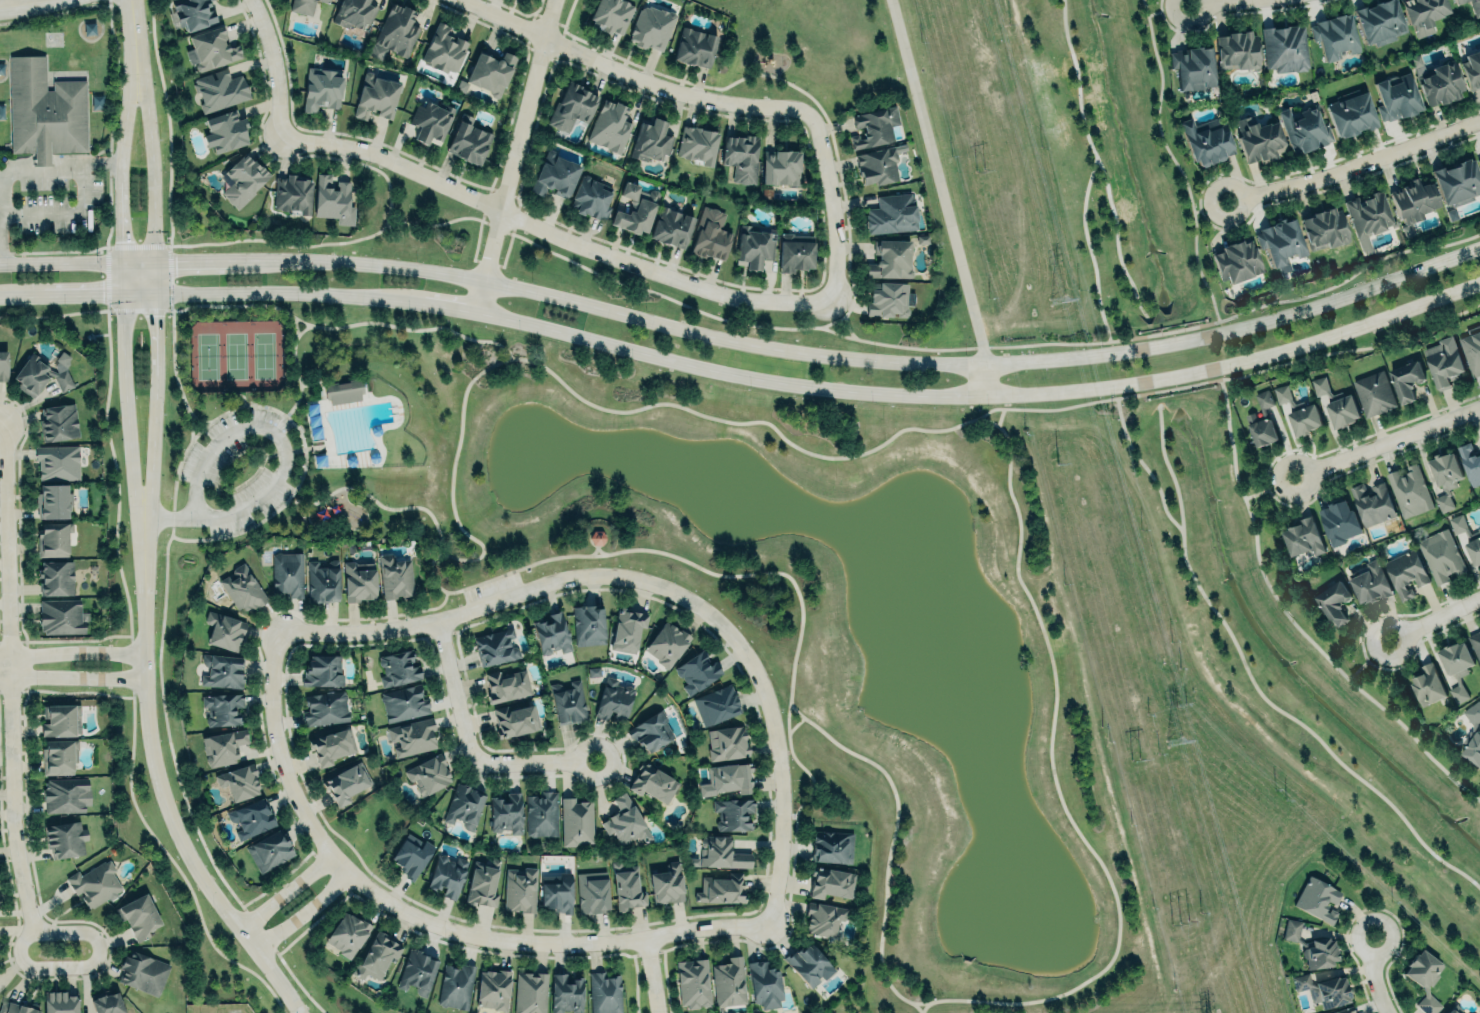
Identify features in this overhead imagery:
building: (326, 0)
building: (1460, 1)
road: (1210, 2)
road: (19, 3)
building: (303, 5)
building: (1475, 7)
road: (1166, 8)
building: (354, 12)
building: (194, 13)
building: (1423, 13)
building: (611, 15)
building: (1379, 21)
building: (651, 27)
road: (129, 30)
building: (394, 32)
building: (1335, 34)
building: (695, 45)
building: (1285, 46)
building: (212, 48)
building: (1237, 48)
building: (444, 49)
building: (1191, 64)
road: (273, 67)
building: (1472, 68)
building: (491, 70)
road: (626, 75)
building: (1437, 80)
building: (219, 89)
building: (322, 89)
building: (377, 97)
building: (1395, 97)
building: (572, 105)
building: (45, 110)
building: (1351, 111)
road: (126, 112)
building: (429, 121)
building: (610, 125)
building: (874, 125)
building: (1304, 128)
building: (225, 130)
building: (1259, 138)
building: (469, 139)
building: (652, 139)
building: (1206, 141)
building: (697, 144)
road: (512, 155)
building: (740, 157)
building: (1478, 159)
road: (149, 160)
road: (1171, 161)
building: (879, 163)
road: (1098, 163)
building: (780, 165)
road: (1355, 166)
power tower: (978, 168)
road: (51, 170)
building: (555, 173)
building: (243, 179)
building: (1457, 180)
road: (939, 183)
building: (293, 192)
building: (591, 196)
building: (334, 199)
building: (1412, 203)
road: (830, 205)
road: (1208, 206)
building: (635, 209)
building: (892, 213)
building: (1368, 216)
building: (672, 225)
building: (1324, 228)
road: (120, 230)
building: (710, 233)
road: (553, 234)
traffic signals: (121, 239)
building: (1280, 240)
building: (754, 246)
road: (1086, 247)
building: (795, 250)
building: (891, 259)
building: (1237, 259)
road: (195, 262)
road: (60, 263)
traffic signals: (176, 263)
road: (268, 294)
road: (76, 297)
traffic signals: (101, 297)
power tower: (1057, 297)
building: (889, 298)
road: (430, 304)
road: (154, 314)
traffic signals: (154, 315)
road: (835, 317)
road: (292, 324)
road: (845, 326)
road: (333, 327)
road: (986, 347)
building: (1472, 348)
park: (235, 354)
park: (264, 354)
park: (207, 355)
road: (878, 361)
building: (3, 365)
building: (1443, 365)
road: (171, 367)
road: (293, 369)
building: (41, 372)
road: (547, 373)
building: (1406, 379)
road: (309, 381)
road: (983, 381)
building: (343, 391)
building: (1374, 392)
road: (234, 394)
road: (981, 396)
building: (1337, 404)
road: (125, 409)
building: (1298, 411)
road: (998, 416)
road: (3, 420)
road: (289, 420)
building: (1262, 420)
building: (59, 421)
road: (189, 426)
road: (1386, 442)
road: (150, 443)
building: (1479, 445)
road: (249, 448)
road: (290, 451)
road: (281, 455)
park: (1146, 458)
power tower: (1055, 460)
building: (58, 461)
building: (1470, 462)
road: (1142, 466)
building: (1446, 470)
road: (1266, 488)
building: (1409, 490)
road: (296, 494)
building: (53, 500)
road: (371, 500)
building: (1373, 502)
building: (1443, 502)
building: (1339, 521)
building: (1458, 524)
building: (1479, 529)
building: (1304, 536)
building: (53, 538)
road: (593, 547)
building: (1474, 550)
building: (1441, 555)
building: (1406, 572)
building: (288, 573)
building: (56, 576)
building: (395, 576)
building: (322, 581)
building: (1371, 581)
building: (359, 582)
road: (660, 586)
building: (242, 588)
building: (1334, 601)
building: (60, 615)
road: (1434, 617)
building: (588, 625)
road: (1292, 625)
building: (627, 628)
building: (224, 630)
building: (552, 633)
building: (667, 643)
building: (1475, 644)
building: (495, 646)
road: (76, 652)
road: (1365, 658)
road: (6, 663)
building: (1457, 666)
building: (398, 667)
building: (222, 669)
building: (322, 669)
building: (697, 671)
road: (75, 676)
building: (1428, 684)
building: (507, 685)
road: (1253, 688)
building: (614, 699)
building: (404, 702)
building: (569, 702)
building: (716, 704)
building: (222, 707)
building: (325, 708)
building: (59, 718)
building: (515, 719)
road: (792, 725)
building: (650, 730)
building: (412, 736)
power tower: (1170, 739)
building: (727, 742)
building: (222, 745)
building: (331, 746)
road: (166, 748)
road: (468, 748)
building: (1473, 748)
building: (59, 755)
power tower: (1135, 759)
road: (286, 760)
road: (15, 769)
building: (428, 774)
building: (727, 779)
building: (238, 781)
building: (346, 783)
building: (654, 783)
road: (158, 786)
road: (1051, 787)
building: (66, 794)
building: (463, 804)
building: (506, 812)
building: (542, 813)
building: (733, 813)
building: (250, 817)
building: (576, 820)
building: (626, 821)
building: (66, 837)
road: (888, 841)
building: (831, 845)
building: (268, 850)
building: (721, 852)
building: (412, 855)
building: (447, 874)
building: (96, 882)
building: (483, 882)
building: (831, 882)
building: (666, 884)
building: (626, 886)
building: (721, 888)
building: (520, 889)
road: (285, 890)
building: (557, 892)
building: (592, 892)
building: (1317, 898)
road: (302, 911)
building: (138, 915)
building: (823, 918)
power tower: (1180, 924)
building: (1291, 929)
building: (348, 933)
road: (552, 942)
building: (1319, 952)
building: (376, 956)
building: (807, 963)
building: (417, 970)
building: (143, 972)
road: (1372, 975)
road: (649, 977)
building: (1424, 978)
building: (729, 981)
building: (693, 982)
building: (456, 985)
building: (764, 985)
building: (493, 989)
building: (1323, 989)
building: (530, 992)
building: (604, 992)
building: (566, 993)
building: (60, 1002)
building: (107, 1003)
road: (914, 1007)
building: (15, 1008)
building: (1344, 1010)
building: (1450, 1011)
building: (1471, 1012)

